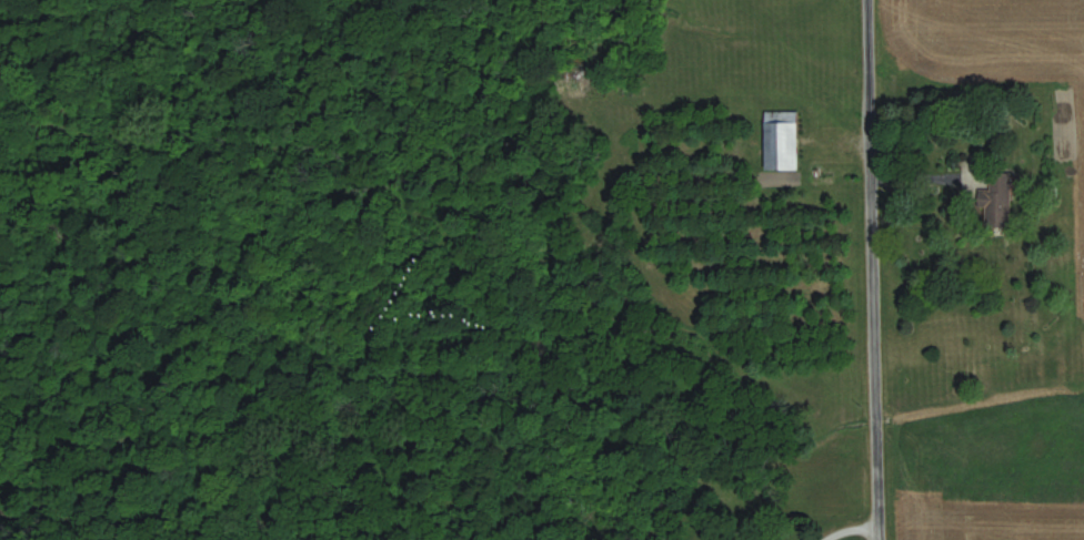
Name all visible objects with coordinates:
building: (781, 139)
building: (996, 200)
road: (870, 269)
road: (846, 528)

